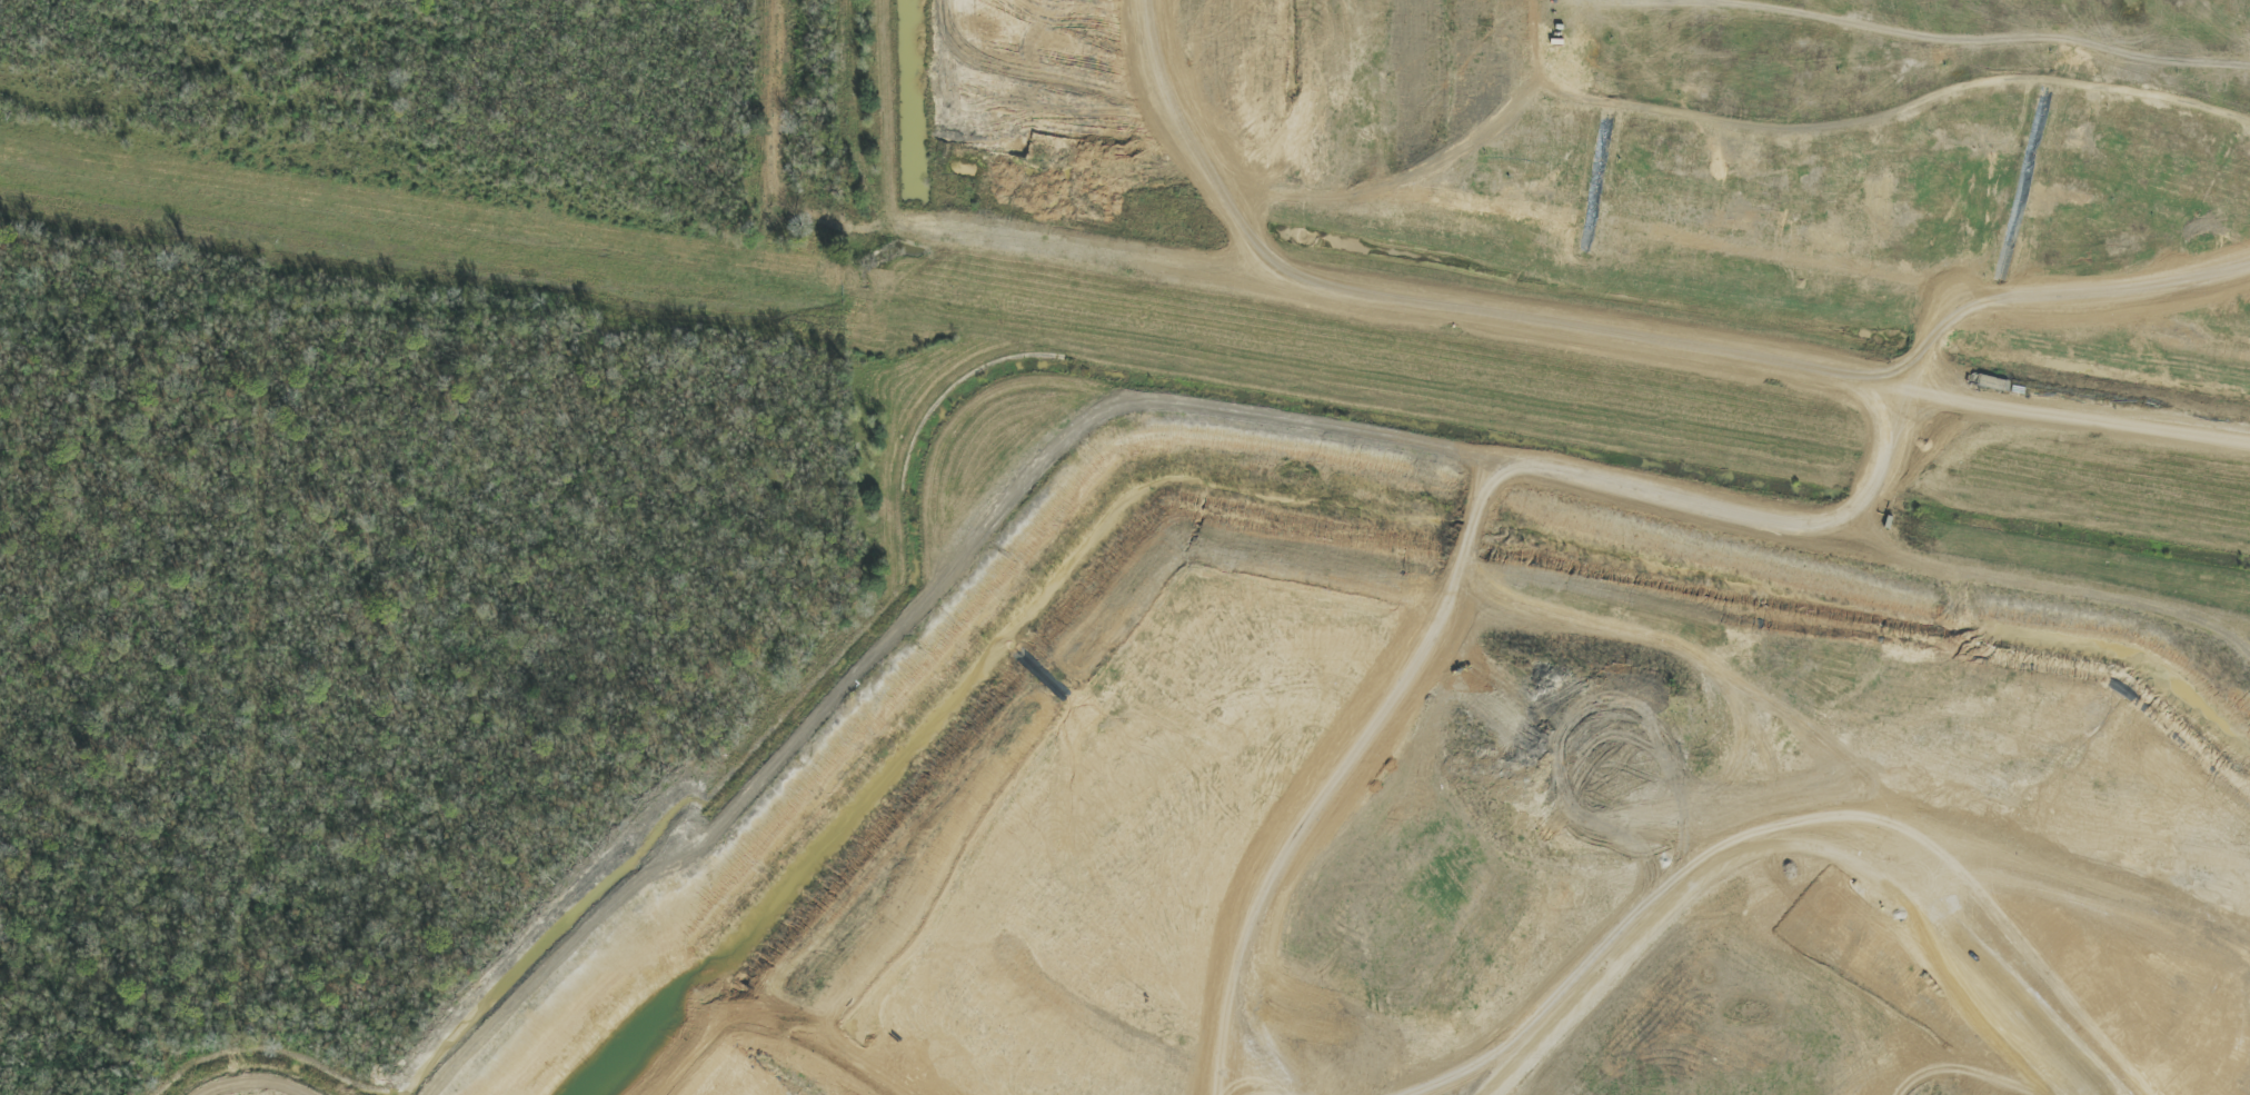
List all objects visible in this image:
landfill: (1681, 153)
road: (2097, 420)
landfill: (1551, 772)

